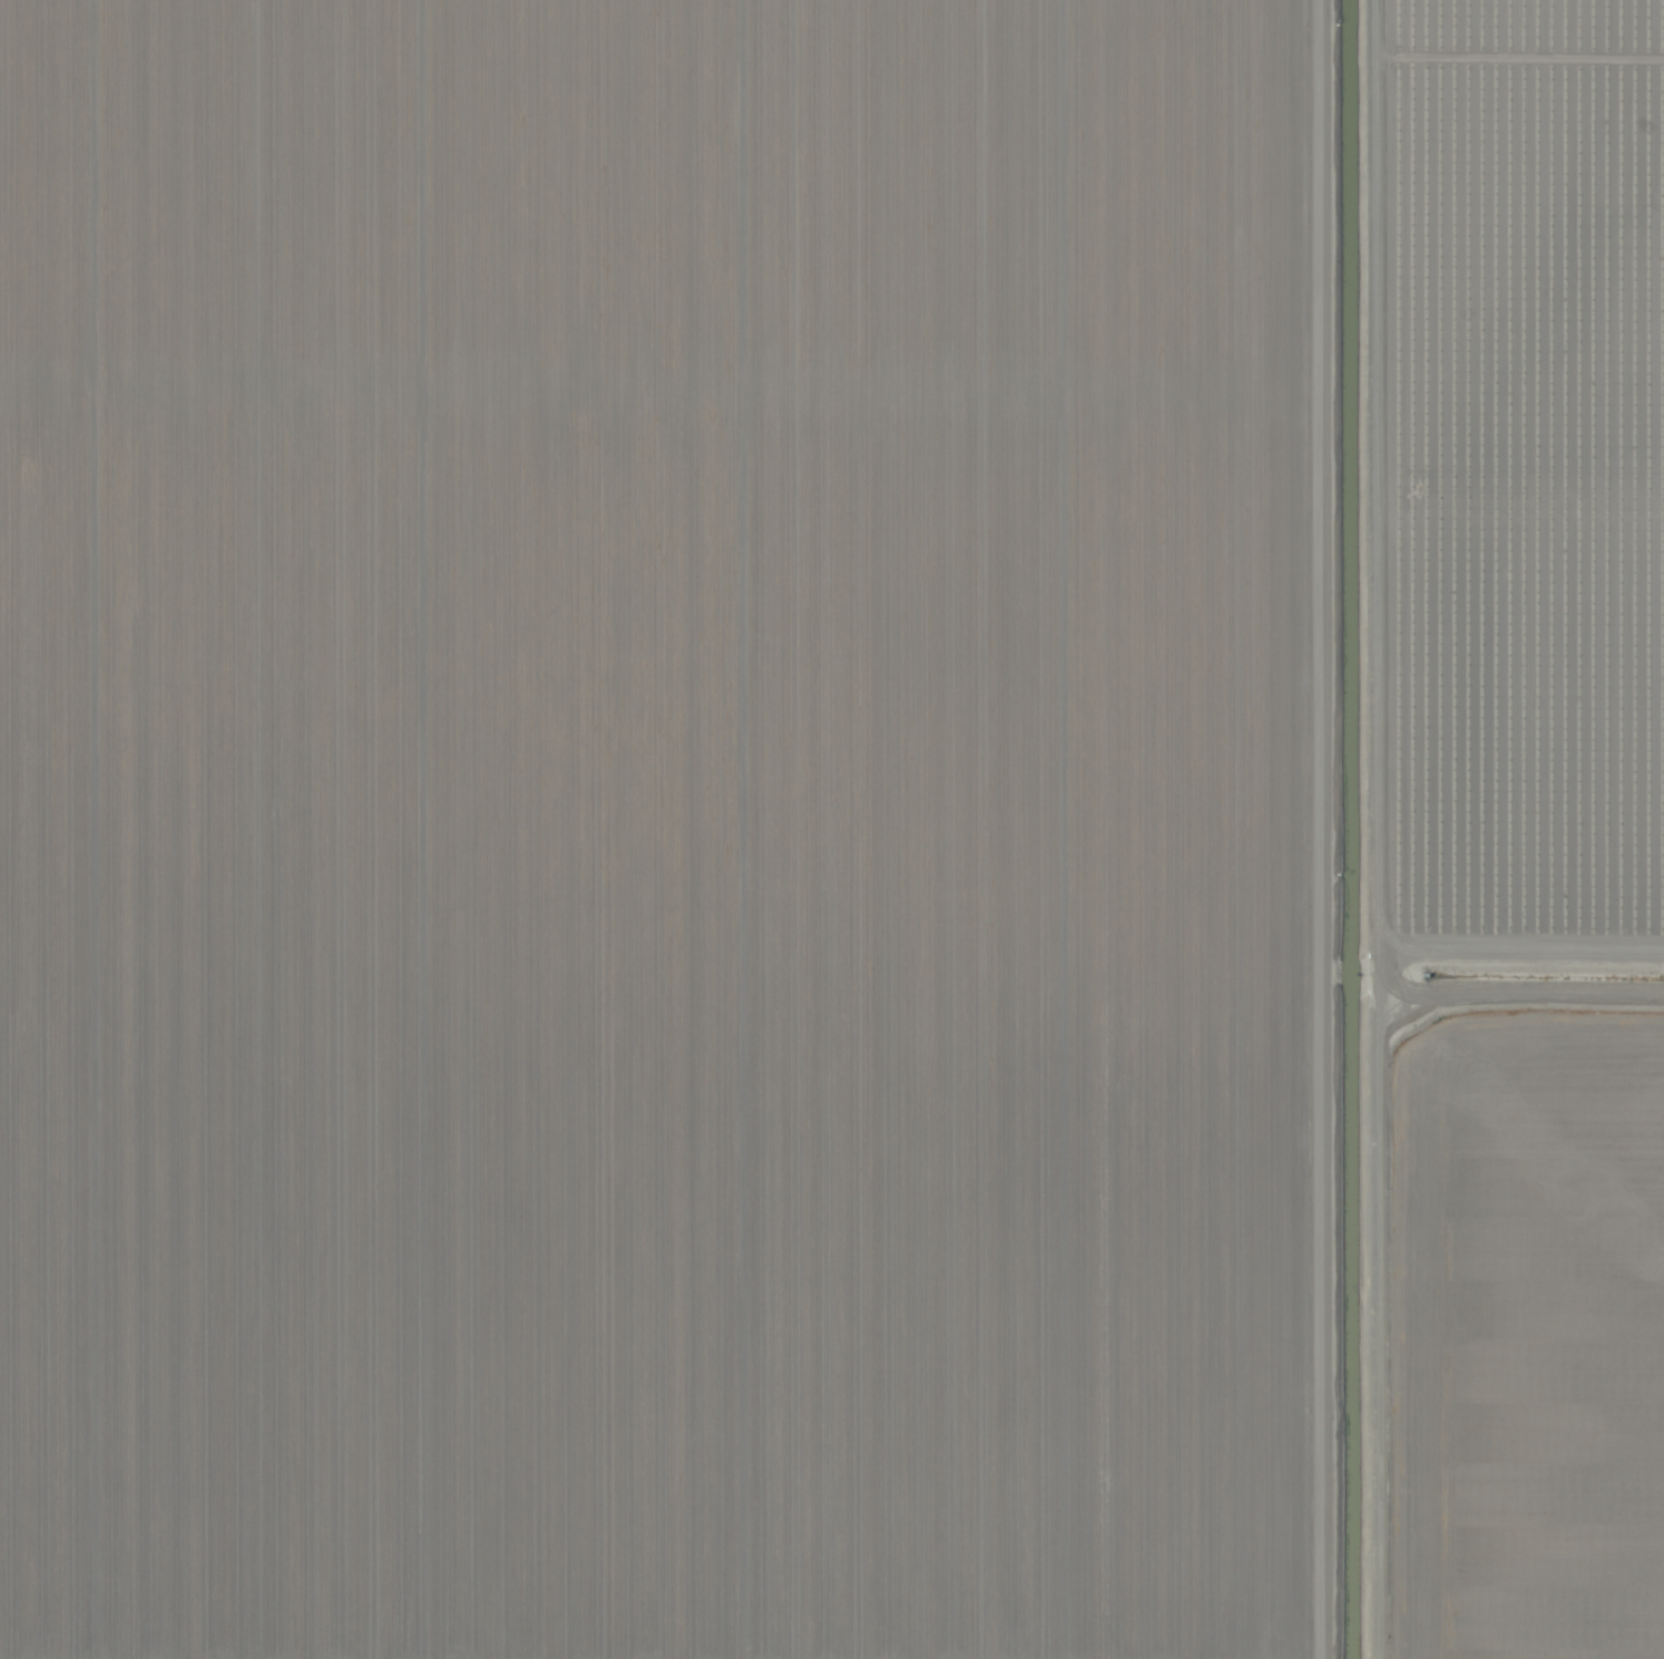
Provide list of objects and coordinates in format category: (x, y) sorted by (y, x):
crop: (832, 829)
road: (1328, 829)

